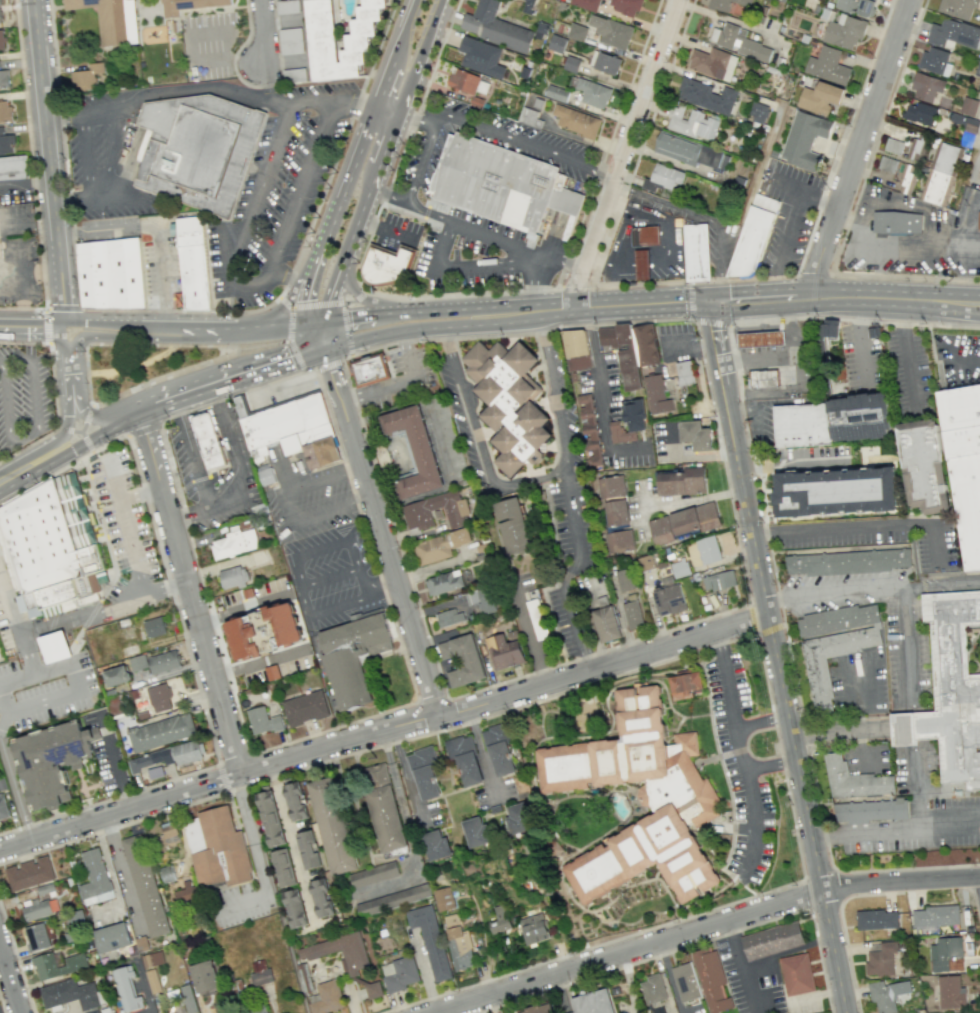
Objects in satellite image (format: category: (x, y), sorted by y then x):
building: (586, 4)
building: (725, 4)
building: (188, 5)
building: (287, 6)
building: (527, 6)
building: (625, 6)
building: (856, 6)
building: (957, 7)
building: (0, 13)
building: (111, 19)
road: (279, 21)
road: (149, 25)
building: (495, 27)
building: (577, 31)
building: (610, 31)
building: (844, 31)
road: (262, 32)
building: (952, 33)
building: (2, 39)
building: (290, 40)
building: (321, 41)
building: (739, 42)
building: (556, 43)
parking lot: (209, 44)
road: (375, 51)
road: (215, 52)
building: (481, 56)
road: (281, 60)
building: (934, 60)
building: (604, 62)
building: (571, 63)
building: (713, 63)
road: (243, 64)
building: (827, 65)
road: (63, 68)
building: (977, 69)
building: (293, 74)
building: (86, 75)
building: (4, 77)
road: (269, 79)
building: (463, 80)
road: (258, 85)
building: (926, 87)
road: (203, 90)
building: (593, 92)
building: (556, 93)
building: (706, 95)
building: (820, 97)
road: (346, 101)
road: (302, 103)
building: (968, 106)
road: (376, 107)
building: (5, 111)
building: (759, 113)
building: (920, 113)
building: (529, 117)
road: (367, 118)
road: (416, 118)
road: (439, 120)
building: (576, 121)
road: (64, 122)
building: (691, 122)
building: (967, 123)
road: (389, 129)
road: (876, 137)
building: (804, 139)
parking lot: (528, 141)
building: (5, 142)
road: (529, 145)
building: (893, 145)
road: (857, 148)
building: (914, 148)
building: (686, 150)
building: (199, 152)
road: (64, 154)
road: (625, 155)
parking lot: (106, 162)
road: (49, 163)
building: (888, 164)
road: (975, 167)
building: (13, 169)
building: (940, 173)
road: (30, 175)
building: (662, 178)
building: (906, 178)
road: (413, 182)
building: (501, 183)
road: (93, 185)
road: (805, 191)
parking lot: (277, 196)
road: (98, 199)
road: (429, 199)
road: (318, 200)
road: (402, 210)
road: (425, 211)
road: (427, 212)
parking lot: (787, 212)
parking lot: (201, 214)
road: (702, 218)
building: (978, 220)
road: (157, 224)
road: (366, 224)
building: (896, 224)
building: (189, 226)
parking lot: (397, 232)
road: (394, 233)
building: (753, 235)
building: (645, 236)
road: (784, 243)
road: (519, 249)
road: (314, 250)
building: (696, 252)
parking lot: (485, 253)
road: (241, 258)
parking lot: (146, 259)
road: (560, 261)
building: (387, 264)
road: (459, 265)
building: (643, 265)
road: (285, 273)
building: (110, 274)
road: (811, 274)
road: (904, 276)
building: (193, 277)
road: (685, 282)
building: (0, 284)
road: (299, 286)
road: (572, 287)
road: (329, 289)
road: (302, 292)
road: (253, 293)
road: (456, 293)
road: (356, 295)
road: (845, 297)
road: (353, 299)
road: (286, 300)
road: (229, 303)
traffic signals: (711, 304)
road: (316, 305)
road: (465, 306)
road: (61, 308)
road: (625, 308)
road: (154, 309)
road: (254, 309)
road: (367, 314)
road: (774, 315)
road: (746, 317)
road: (333, 318)
traffic signals: (322, 319)
road: (665, 319)
road: (692, 319)
road: (312, 320)
traffic signals: (302, 321)
road: (110, 323)
road: (277, 323)
road: (45, 324)
road: (471, 325)
road: (0, 326)
road: (23, 326)
road: (51, 326)
road: (777, 326)
road: (190, 327)
road: (235, 328)
road: (345, 328)
road: (750, 328)
building: (827, 330)
road: (289, 332)
road: (325, 333)
road: (136, 336)
road: (308, 337)
road: (365, 337)
road: (779, 337)
building: (760, 338)
road: (769, 338)
road: (754, 339)
road: (743, 340)
road: (858, 341)
road: (23, 342)
road: (59, 342)
parking lot: (676, 342)
building: (645, 343)
road: (209, 344)
road: (262, 344)
road: (693, 344)
traffic signals: (329, 348)
road: (720, 350)
road: (780, 350)
road: (321, 351)
building: (576, 351)
road: (769, 351)
road: (906, 351)
building: (623, 352)
road: (755, 352)
road: (744, 353)
traffic signals: (314, 354)
road: (328, 356)
road: (784, 356)
road: (345, 357)
parking lot: (958, 358)
road: (321, 359)
gas station: (777, 359)
parking lot: (860, 359)
road: (968, 359)
road: (334, 361)
road: (16, 362)
road: (1, 363)
road: (131, 364)
park: (138, 364)
road: (321, 366)
road: (791, 367)
building: (370, 370)
building: (683, 373)
road: (331, 374)
parking lot: (908, 374)
road: (69, 375)
building: (762, 377)
parking lot: (401, 378)
road: (401, 382)
road: (227, 384)
road: (51, 385)
road: (552, 386)
road: (283, 388)
parking lot: (280, 390)
building: (655, 394)
parking lot: (23, 395)
road: (599, 396)
road: (786, 401)
building: (509, 402)
road: (742, 403)
parking lot: (611, 412)
building: (633, 412)
road: (93, 416)
road: (133, 417)
parking lot: (760, 422)
road: (162, 425)
building: (802, 425)
building: (289, 427)
road: (144, 428)
road: (81, 429)
building: (588, 429)
road: (756, 430)
building: (619, 432)
building: (695, 434)
road: (232, 438)
road: (19, 439)
road: (86, 441)
road: (52, 442)
road: (109, 442)
road: (28, 443)
building: (210, 443)
parking lot: (670, 443)
road: (477, 444)
road: (226, 445)
road: (68, 449)
building: (411, 451)
road: (692, 454)
road: (199, 455)
parking lot: (187, 460)
building: (963, 464)
building: (923, 465)
road: (86, 472)
road: (4, 476)
road: (46, 476)
building: (265, 476)
building: (681, 481)
building: (610, 486)
road: (91, 488)
building: (835, 491)
road: (140, 495)
parking lot: (305, 495)
road: (92, 498)
road: (750, 504)
road: (286, 506)
road: (211, 511)
building: (616, 512)
building: (415, 514)
building: (694, 518)
parking lot: (573, 519)
building: (512, 525)
road: (392, 527)
road: (127, 530)
building: (660, 530)
road: (862, 530)
parking lot: (124, 536)
parking lot: (876, 538)
building: (619, 541)
building: (234, 543)
road: (767, 544)
building: (439, 545)
building: (51, 547)
building: (481, 547)
building: (707, 549)
road: (108, 550)
road: (385, 550)
building: (849, 563)
road: (298, 567)
road: (575, 567)
parking lot: (332, 574)
building: (233, 577)
road: (329, 578)
building: (626, 579)
building: (718, 580)
building: (444, 582)
road: (944, 585)
road: (380, 587)
road: (167, 591)
road: (191, 592)
road: (837, 592)
building: (247, 593)
road: (174, 600)
building: (486, 600)
road: (243, 607)
road: (91, 613)
building: (632, 614)
building: (448, 616)
road: (299, 619)
building: (536, 619)
road: (750, 620)
building: (606, 623)
road: (54, 626)
building: (153, 626)
road: (768, 630)
building: (263, 631)
road: (526, 631)
road: (71, 643)
building: (833, 644)
building: (54, 646)
building: (503, 651)
road: (595, 652)
building: (353, 655)
building: (462, 659)
building: (163, 661)
road: (258, 661)
building: (138, 662)
parking lot: (36, 670)
building: (271, 672)
building: (116, 675)
road: (725, 681)
parking lot: (857, 681)
road: (1, 685)
building: (952, 687)
building: (685, 688)
building: (158, 696)
road: (429, 697)
road: (856, 701)
road: (34, 706)
building: (304, 707)
road: (914, 709)
building: (263, 720)
road: (761, 724)
road: (384, 730)
road: (854, 730)
building: (160, 732)
road: (376, 745)
road: (859, 748)
building: (498, 750)
building: (187, 751)
road: (481, 753)
road: (779, 756)
building: (150, 759)
building: (464, 759)
building: (52, 760)
road: (114, 762)
road: (772, 765)
parking lot: (738, 766)
building: (155, 772)
building: (424, 772)
road: (221, 777)
building: (853, 779)
road: (107, 799)
building: (295, 801)
building: (641, 804)
road: (751, 805)
building: (3, 808)
building: (383, 808)
road: (231, 810)
building: (870, 810)
road: (808, 812)
building: (270, 818)
building: (518, 818)
building: (335, 826)
road: (950, 828)
building: (476, 832)
building: (169, 834)
road: (250, 834)
road: (867, 834)
road: (290, 843)
building: (435, 845)
building: (218, 848)
building: (308, 849)
building: (283, 867)
building: (29, 873)
building: (167, 873)
building: (373, 874)
road: (979, 876)
building: (94, 878)
building: (144, 885)
road: (838, 886)
building: (45, 888)
building: (185, 893)
building: (321, 897)
road: (275, 898)
building: (443, 898)
building: (392, 899)
road: (242, 900)
parking lot: (240, 902)
building: (40, 908)
building: (295, 908)
building: (934, 916)
building: (499, 919)
building: (876, 919)
road: (842, 927)
building: (534, 928)
road: (703, 928)
building: (36, 936)
building: (112, 937)
building: (430, 940)
building: (772, 941)
building: (457, 942)
road: (691, 943)
road: (591, 946)
building: (946, 954)
building: (345, 958)
road: (16, 959)
building: (152, 959)
building: (880, 959)
building: (74, 965)
road: (734, 966)
building: (260, 973)
building: (398, 973)
building: (797, 974)
building: (204, 977)
road: (10, 978)
building: (712, 980)
building: (685, 982)
road: (628, 983)
building: (127, 988)
road: (146, 988)
building: (652, 989)
building: (950, 992)
building: (69, 994)
building: (887, 995)
building: (326, 998)
road: (502, 1002)
building: (592, 1002)
road: (1, 1006)
building: (223, 1009)
building: (538, 1009)
building: (257, 1010)
building: (657, 1010)
building: (113, 1012)
building: (977, 1012)

